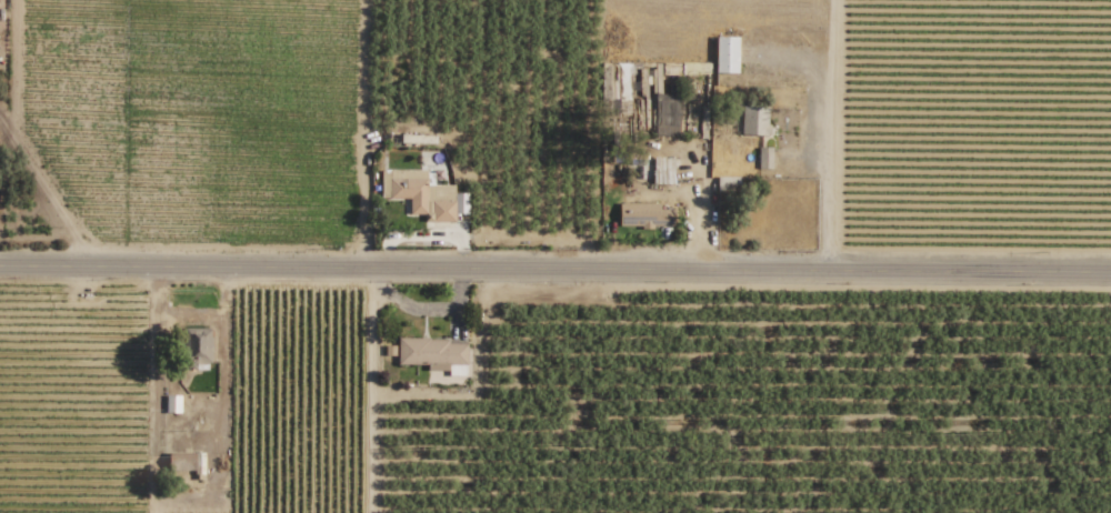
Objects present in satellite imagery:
building: (725, 54)
building: (754, 120)
road: (364, 135)
road: (828, 135)
building: (764, 158)
building: (663, 170)
road: (699, 183)
building: (423, 194)
building: (644, 215)
road: (554, 271)
building: (196, 348)
building: (433, 356)
crop: (735, 385)
road: (369, 392)
building: (172, 403)
building: (186, 461)

